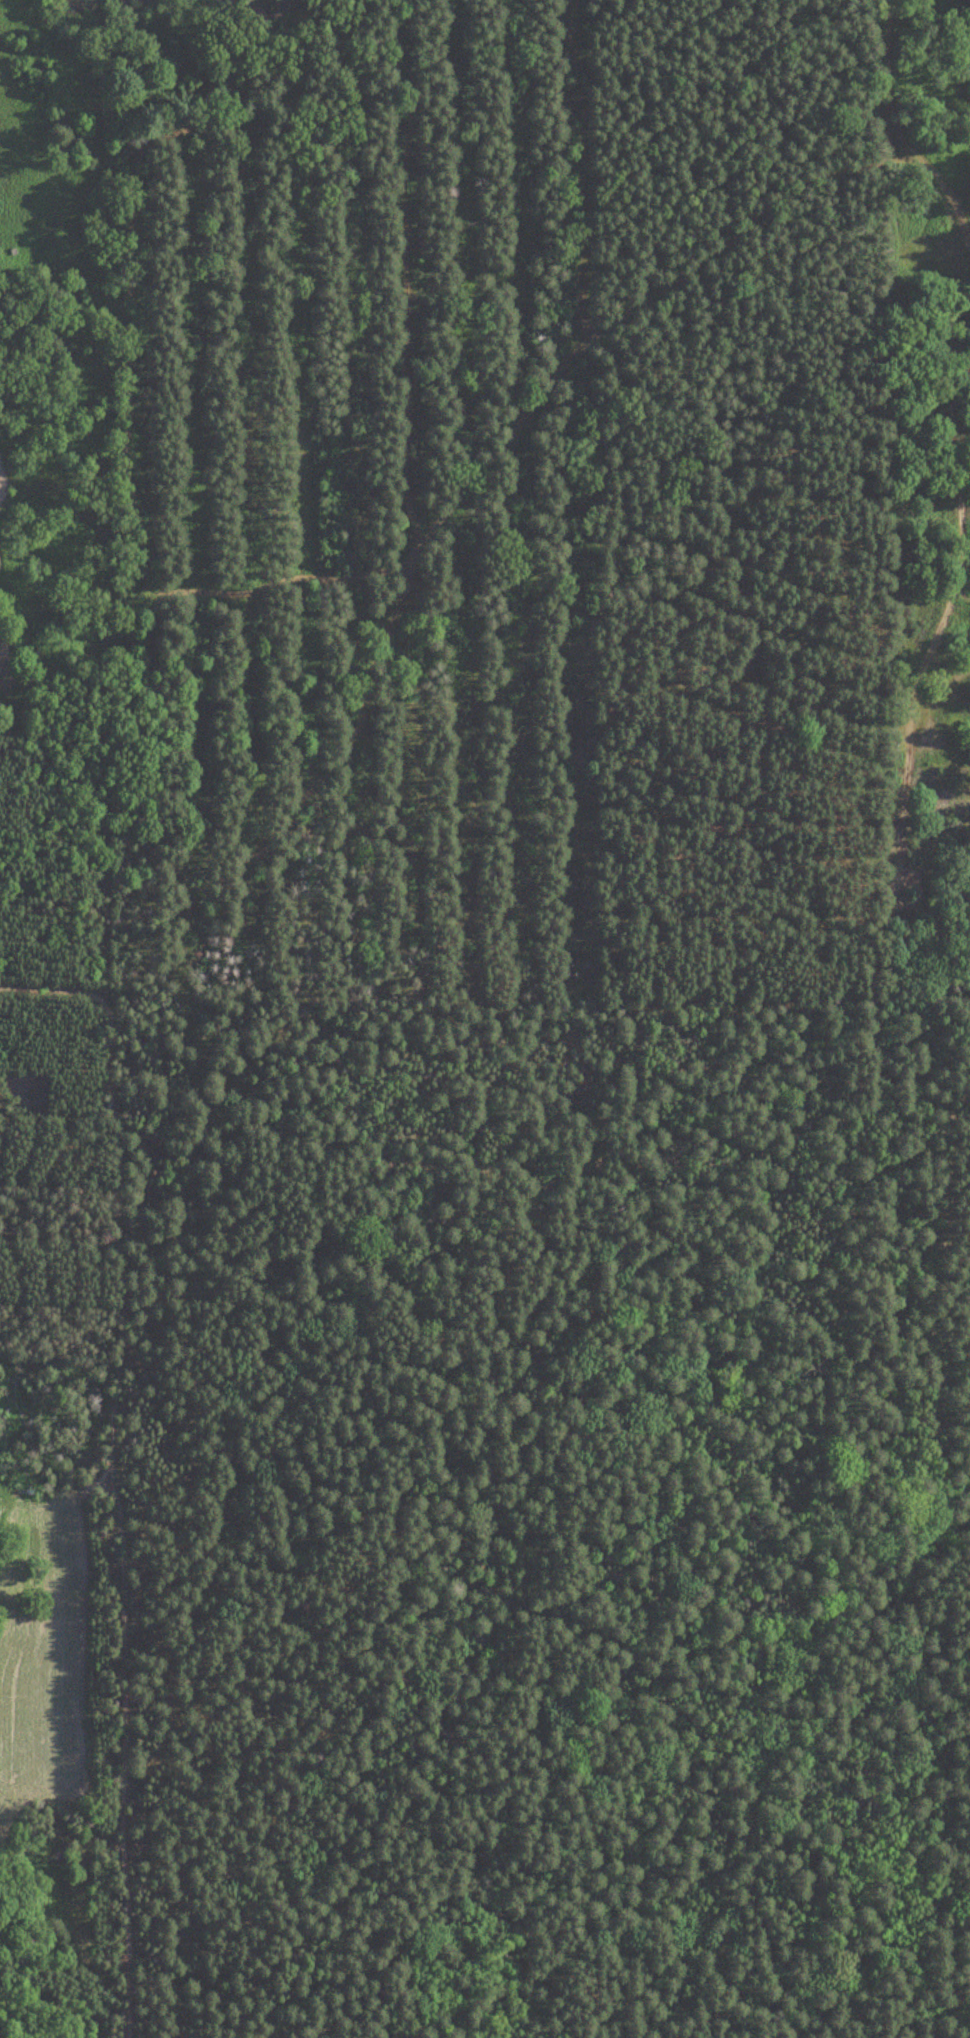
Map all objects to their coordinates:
park: (554, 1487)

